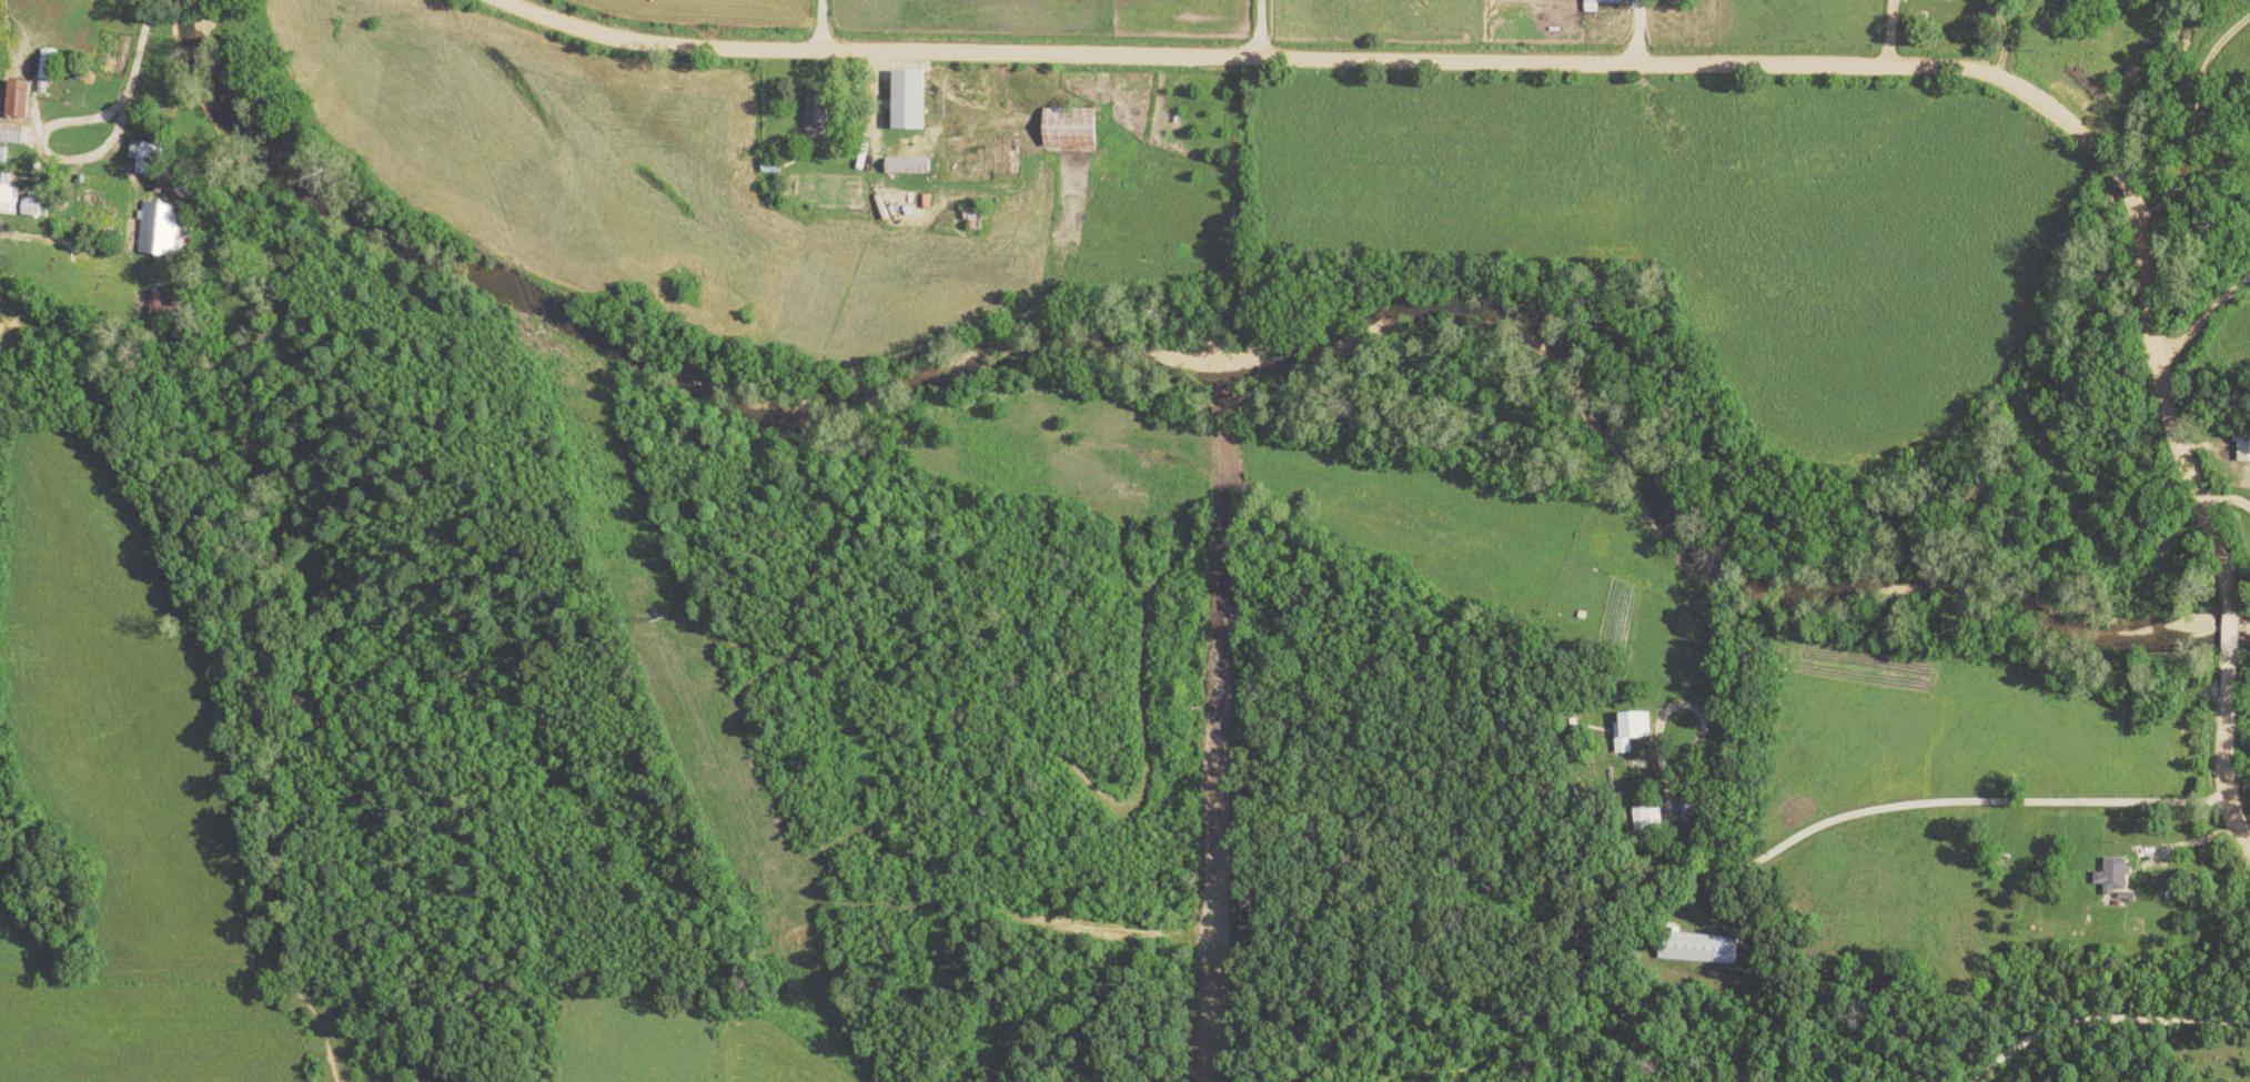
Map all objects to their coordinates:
building: (1608, 1)
road: (825, 26)
road: (1250, 29)
road: (1631, 33)
road: (1878, 36)
road: (1992, 39)
road: (127, 61)
building: (51, 65)
road: (1669, 68)
building: (22, 100)
building: (919, 100)
road: (864, 103)
road: (1178, 108)
road: (2186, 114)
building: (818, 119)
building: (1078, 129)
building: (12, 133)
building: (4, 155)
building: (151, 158)
road: (52, 161)
building: (914, 166)
building: (10, 195)
building: (161, 229)
road: (2197, 321)
building: (2243, 452)
road: (2221, 502)
building: (1637, 731)
road: (1890, 806)
building: (2109, 874)
building: (1702, 948)
road: (2097, 1014)

